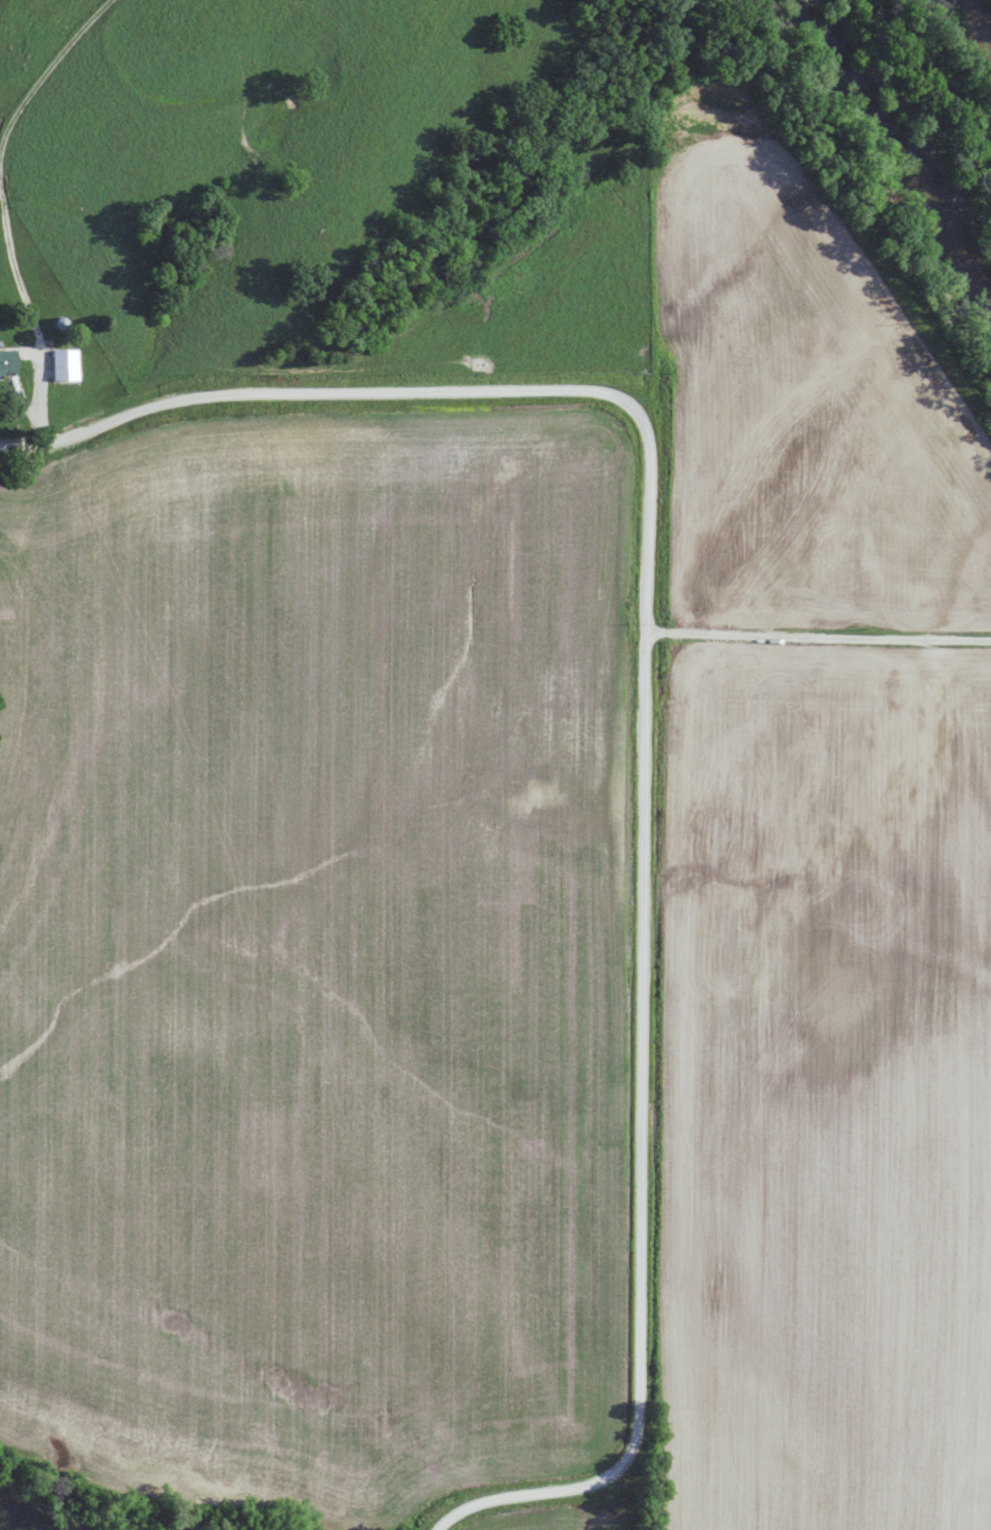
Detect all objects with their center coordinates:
river: (893, 142)
building: (9, 361)
building: (65, 365)
road: (664, 709)
river: (22, 1520)

